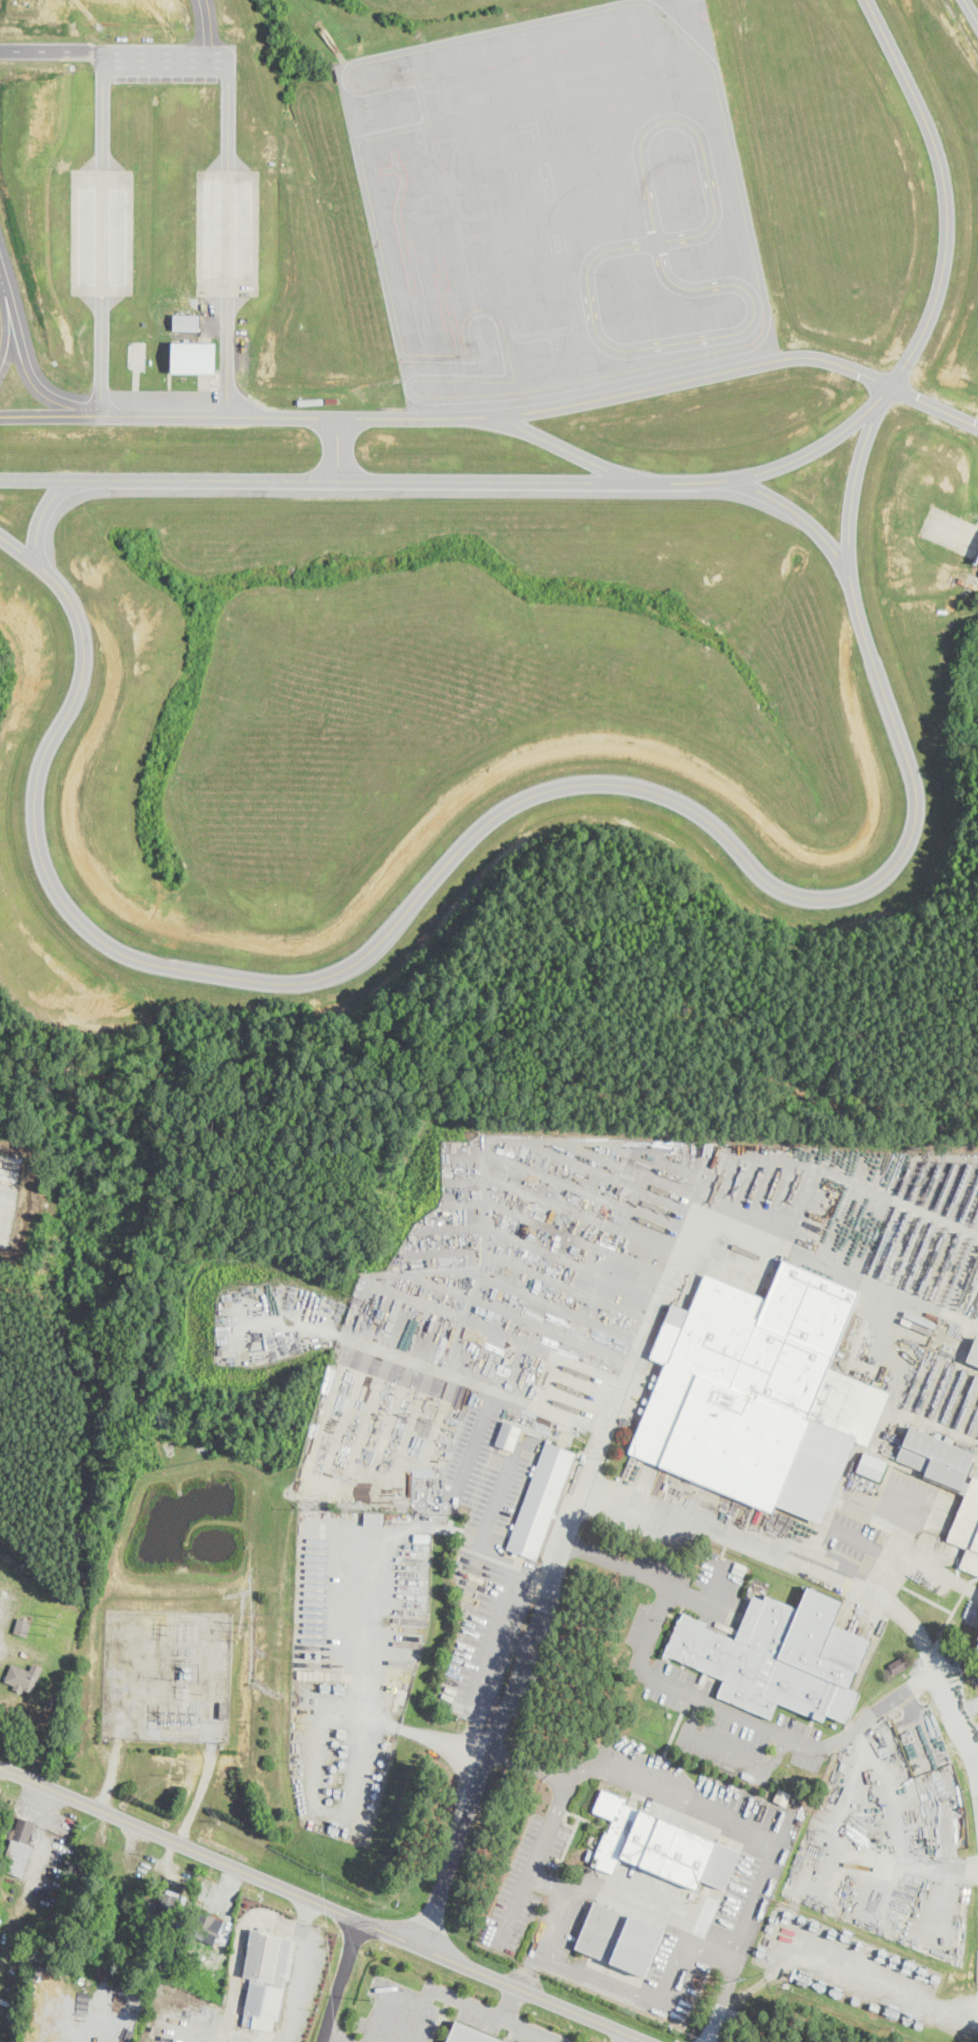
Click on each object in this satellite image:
road: (970, 12)
road: (209, 32)
road: (58, 49)
road: (164, 65)
road: (1, 273)
road: (14, 316)
building: (186, 321)
building: (209, 357)
road: (498, 412)
road: (563, 446)
road: (333, 447)
road: (666, 480)
road: (795, 510)
road: (42, 513)
building: (977, 559)
road: (494, 815)
building: (974, 1354)
building: (760, 1394)
building: (508, 1436)
road: (601, 1444)
building: (872, 1466)
building: (943, 1480)
building: (541, 1500)
building: (373, 1517)
road: (733, 1534)
building: (421, 1536)
road: (863, 1542)
road: (897, 1550)
road: (659, 1582)
power tower: (51, 1625)
building: (22, 1629)
power tower: (186, 1630)
power tower: (242, 1632)
building: (779, 1657)
building: (900, 1665)
building: (27, 1673)
power substation: (164, 1675)
road: (949, 1700)
building: (224, 1710)
road: (750, 1720)
road: (727, 1750)
building: (781, 1795)
road: (753, 1827)
building: (660, 1845)
building: (18, 1846)
road: (526, 1880)
building: (168, 1902)
road: (322, 1902)
road: (553, 1921)
building: (205, 1926)
building: (618, 1937)
road: (299, 1970)
building: (265, 1974)
road: (340, 1980)
road: (386, 1996)
power tower: (372, 1998)
road: (468, 2003)
road: (510, 2003)
building: (466, 2034)
road: (336, 2035)
road: (621, 2037)
building: (496, 2040)

